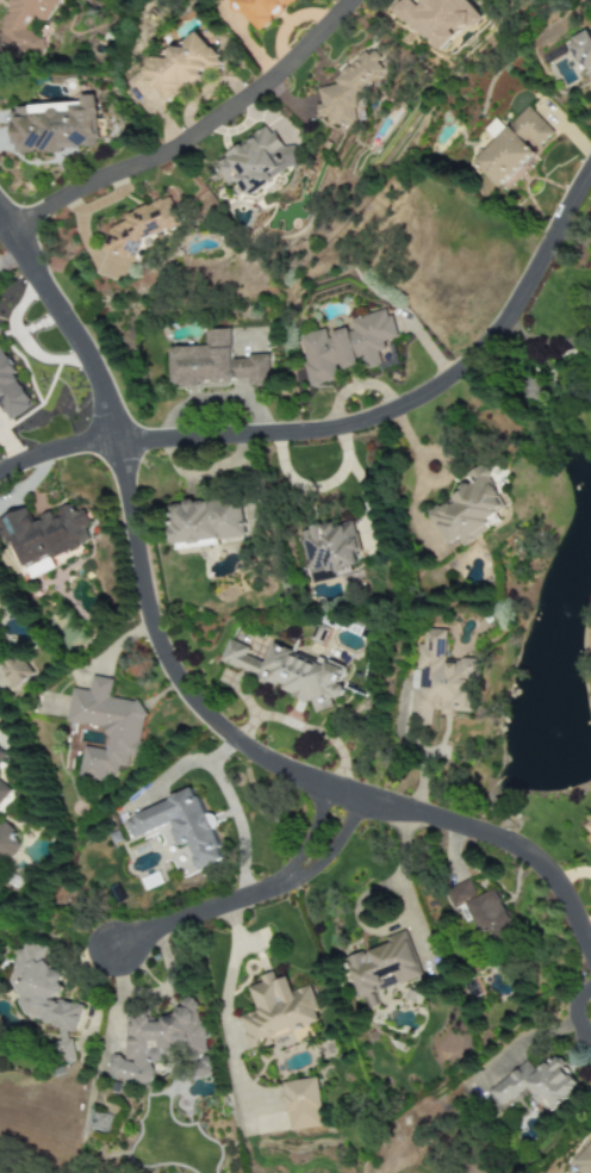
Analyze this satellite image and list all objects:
building: (260, 11)
building: (438, 19)
building: (23, 24)
building: (583, 51)
building: (180, 67)
building: (349, 91)
building: (54, 128)
road: (191, 135)
building: (512, 147)
building: (255, 161)
building: (137, 228)
building: (344, 347)
building: (216, 365)
building: (11, 392)
road: (412, 399)
road: (56, 449)
road: (316, 484)
building: (465, 511)
building: (206, 523)
building: (45, 536)
building: (329, 550)
building: (1, 601)
building: (14, 670)
building: (290, 672)
building: (438, 681)
road: (185, 693)
building: (123, 737)
road: (418, 753)
building: (0, 758)
road: (167, 778)
building: (2, 793)
road: (224, 813)
road: (234, 813)
building: (590, 814)
building: (180, 826)
building: (587, 828)
building: (114, 837)
building: (6, 842)
road: (404, 893)
road: (238, 898)
building: (478, 906)
building: (382, 967)
building: (45, 998)
building: (276, 1010)
road: (573, 1012)
building: (157, 1042)
building: (536, 1085)
building: (303, 1104)
power tower: (105, 1125)
building: (583, 1160)

